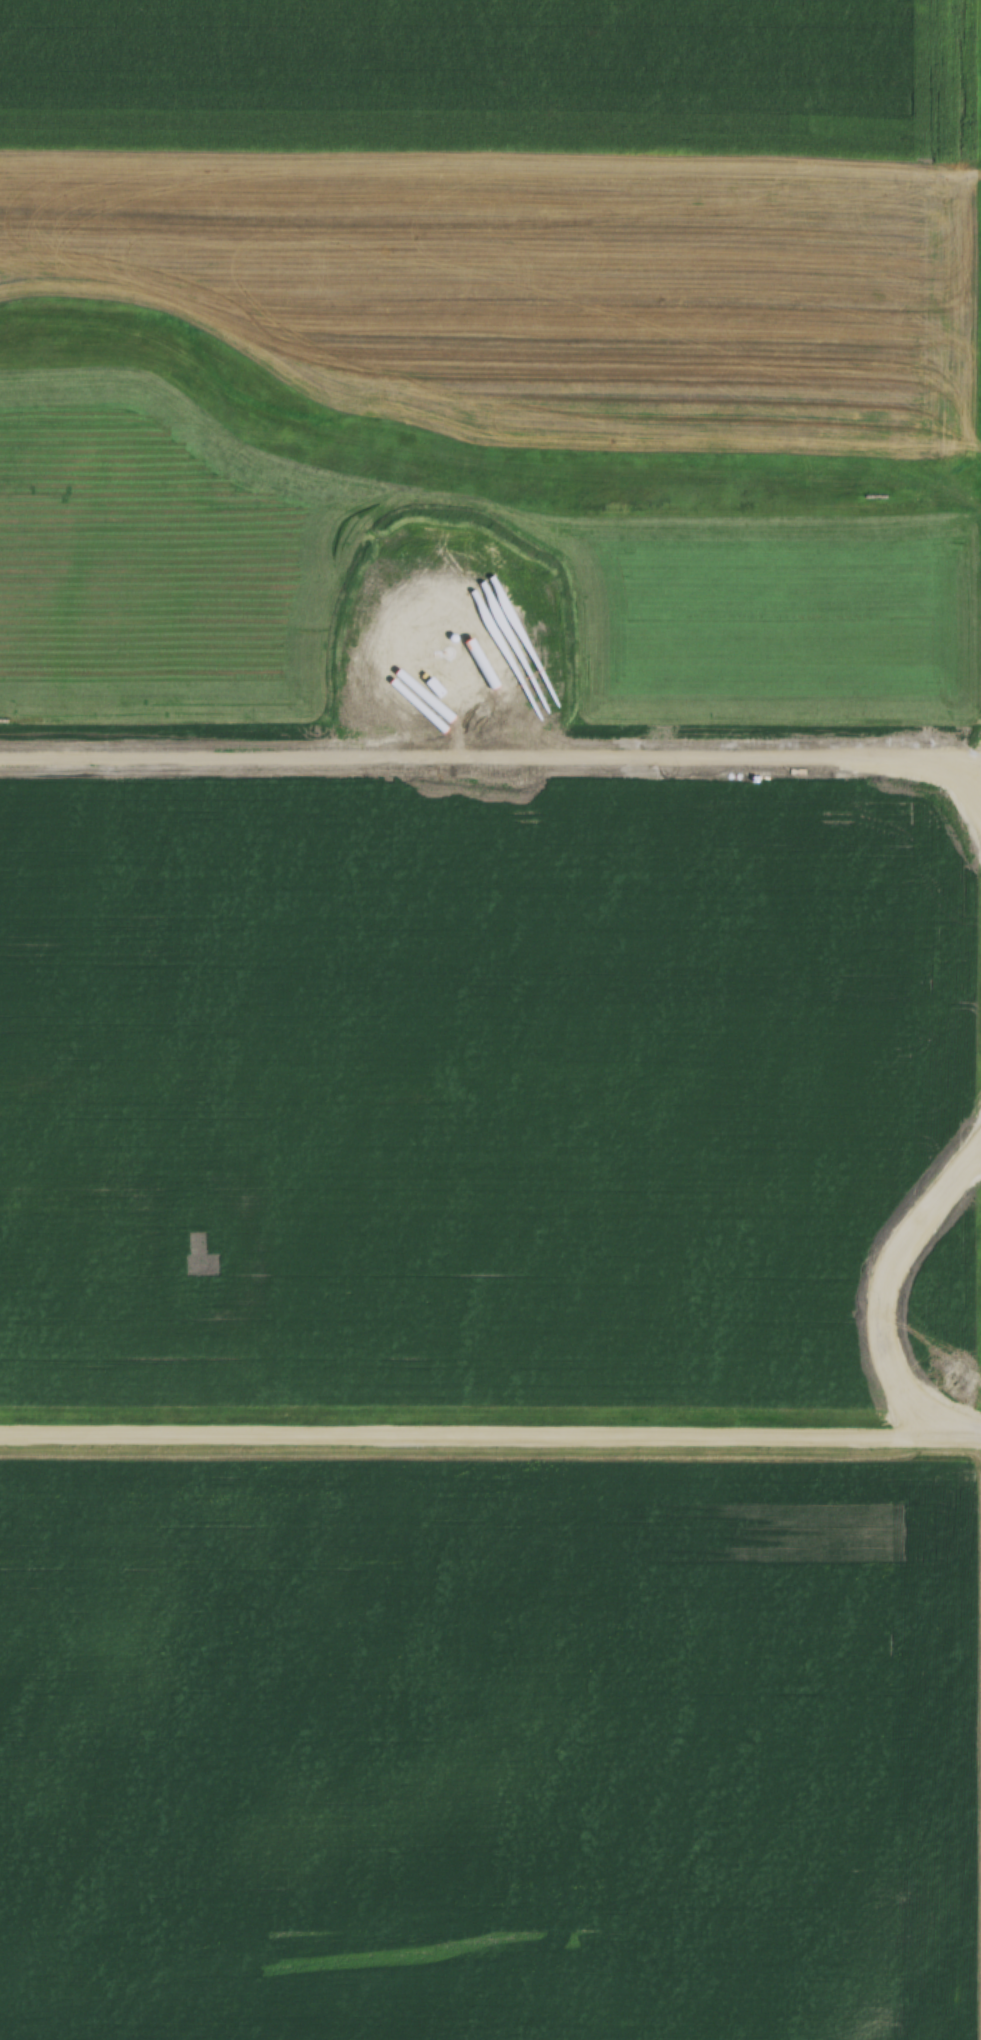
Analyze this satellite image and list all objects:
wind turbine: (437, 653)
road: (490, 1434)

